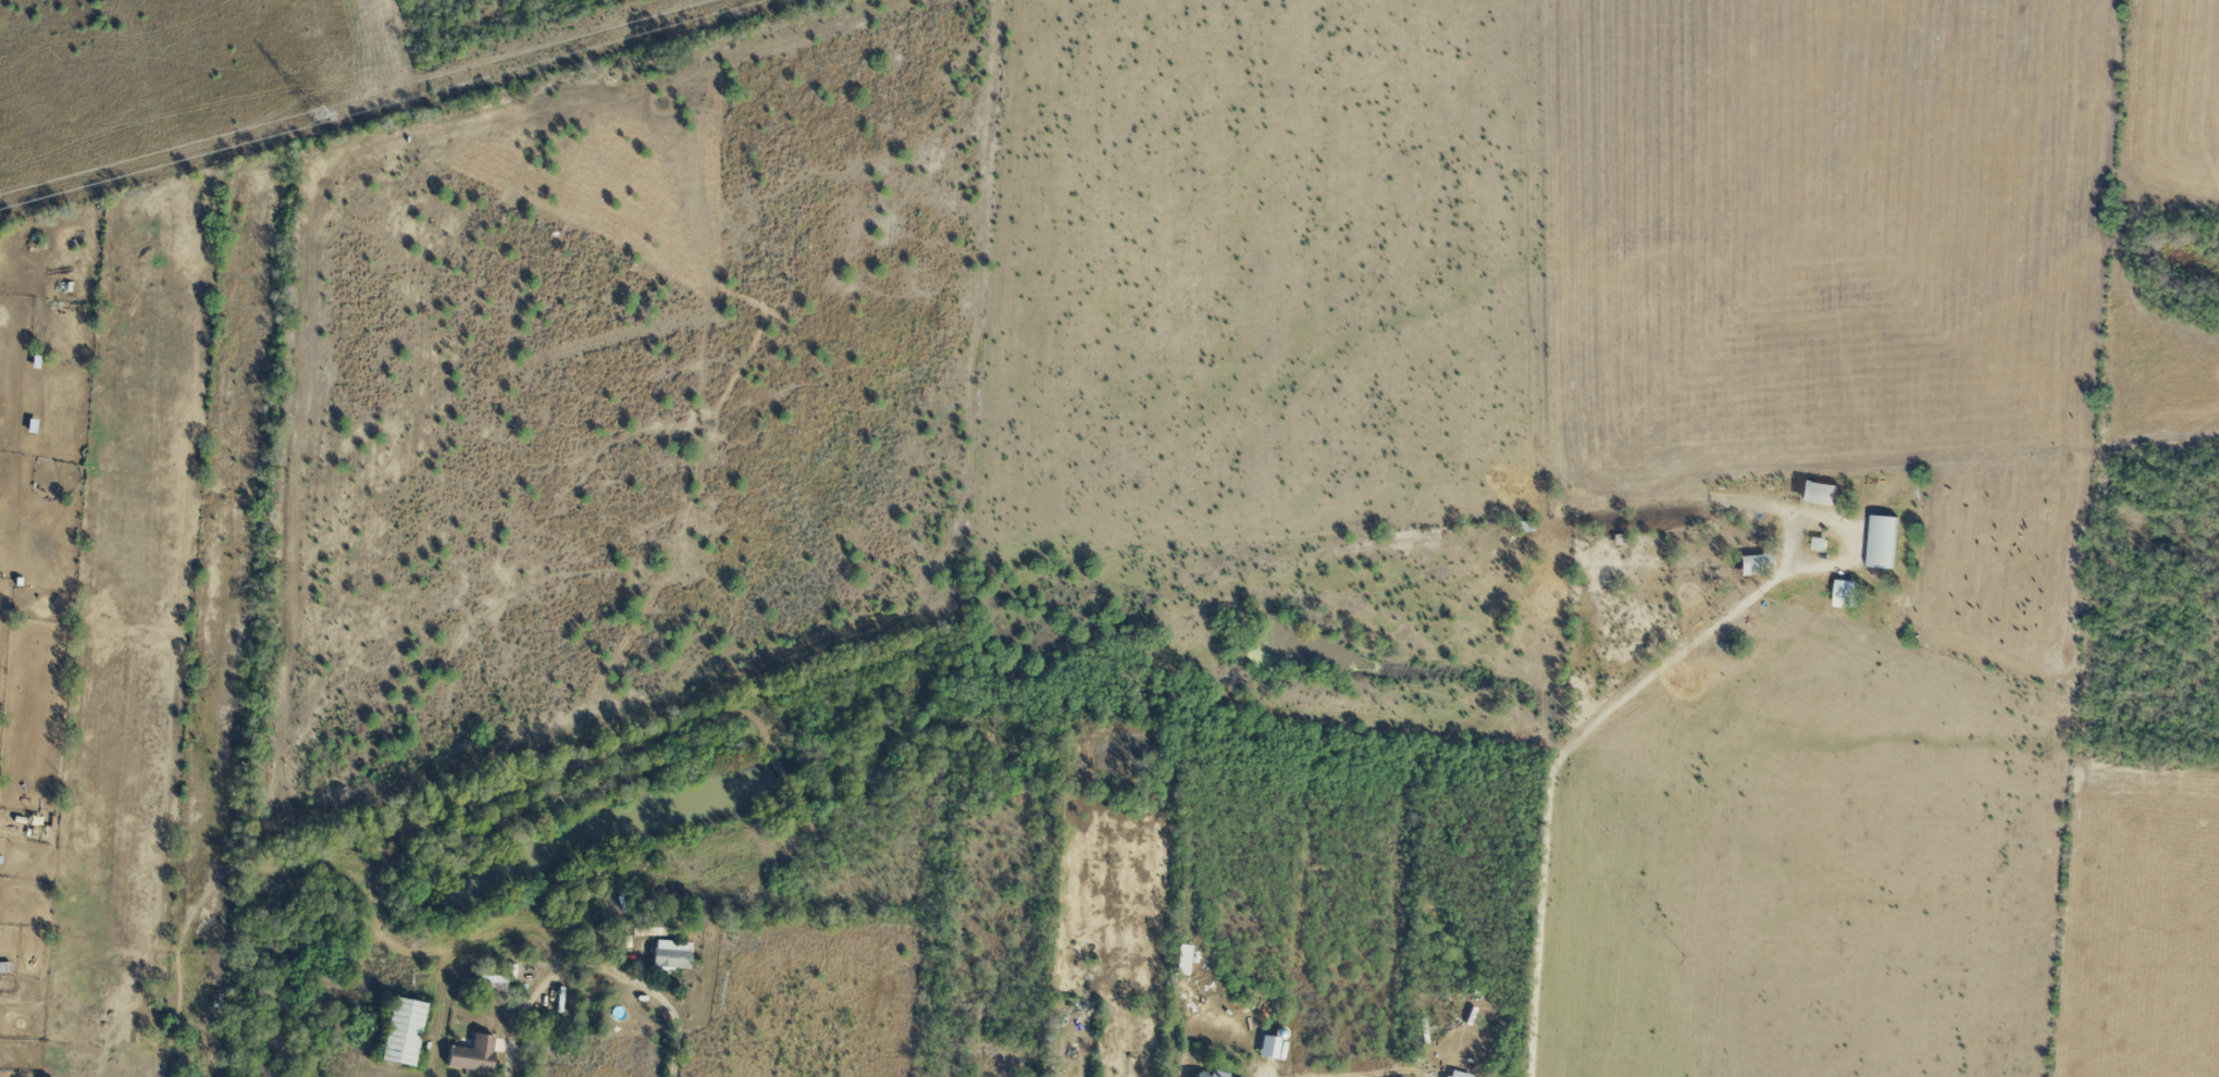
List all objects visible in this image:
power tower: (322, 116)
building: (1818, 494)
road: (1842, 524)
building: (1883, 542)
building: (1752, 565)
building: (1846, 594)
road: (1555, 772)
building: (648, 927)
building: (671, 955)
building: (1185, 960)
road: (595, 971)
building: (491, 978)
building: (590, 982)
building: (402, 1032)
building: (1268, 1048)
building: (473, 1055)
building: (1208, 1075)
road: (1405, 1075)
building: (1456, 1075)
road: (1430, 1076)

